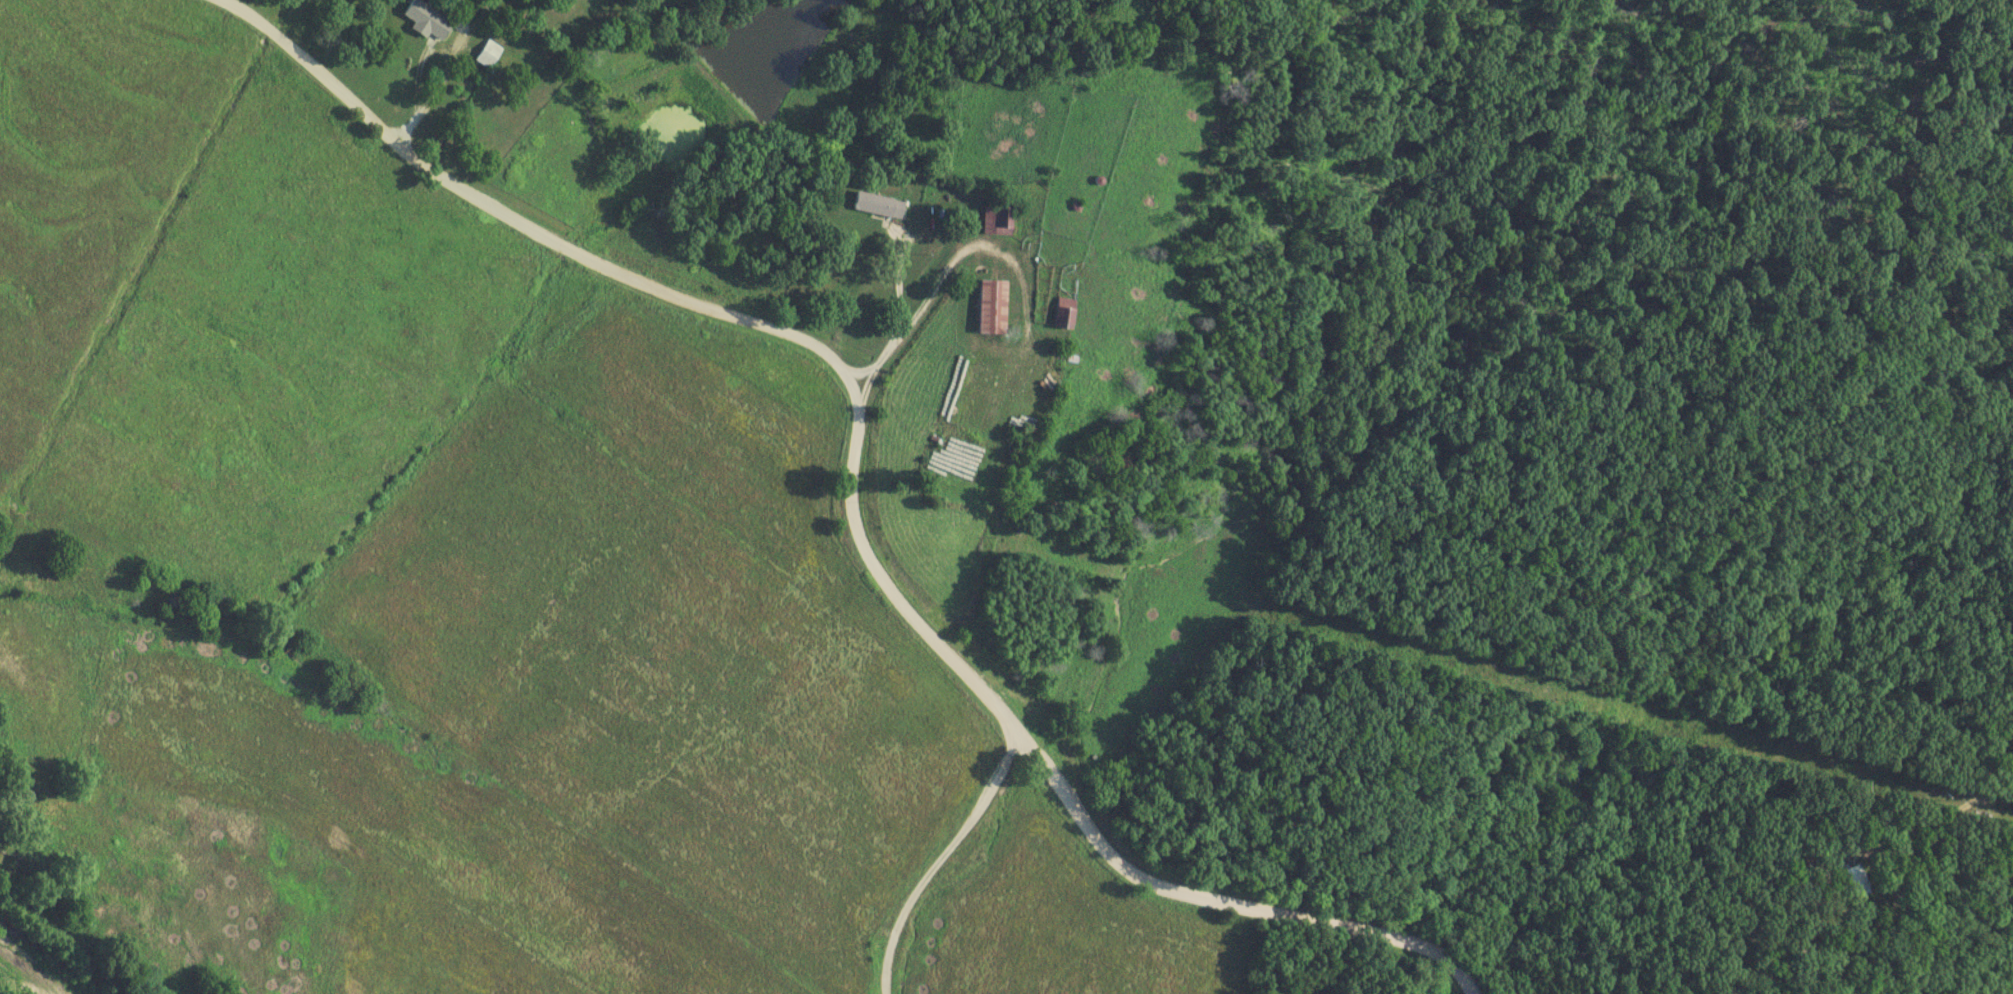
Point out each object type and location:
building: (566, 0)
building: (428, 19)
building: (487, 57)
road: (444, 79)
building: (879, 204)
building: (999, 219)
road: (510, 221)
road: (890, 288)
building: (993, 306)
road: (915, 318)
road: (1056, 789)
building: (1857, 881)

